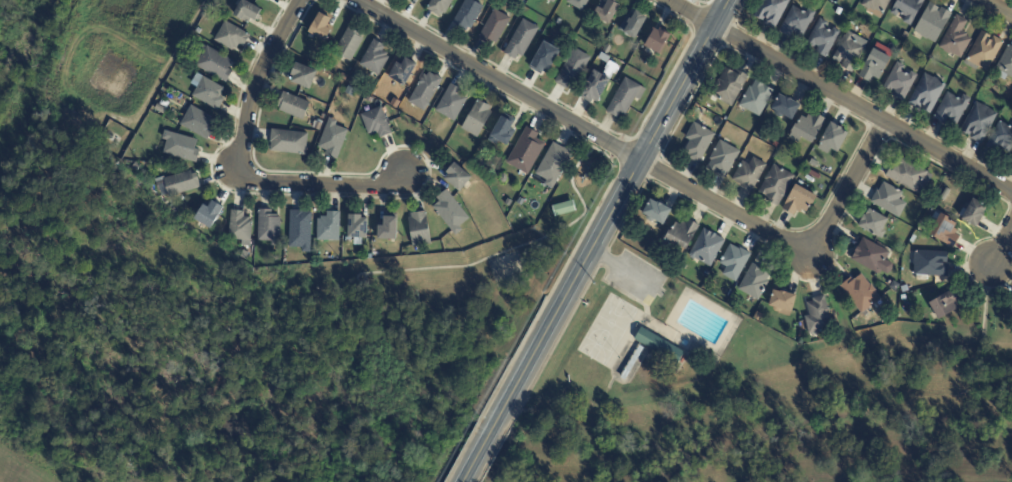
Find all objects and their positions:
building: (267, 0)
building: (551, 1)
building: (577, 3)
building: (875, 4)
building: (438, 6)
road: (997, 8)
building: (907, 9)
building: (771, 11)
building: (839, 11)
building: (247, 12)
building: (607, 12)
building: (467, 15)
building: (797, 21)
building: (854, 21)
building: (932, 23)
building: (633, 24)
building: (321, 27)
building: (493, 27)
building: (230, 36)
building: (822, 38)
building: (956, 38)
building: (521, 40)
building: (657, 40)
building: (348, 44)
building: (607, 49)
building: (850, 51)
building: (984, 52)
building: (603, 57)
building: (374, 58)
building: (544, 58)
building: (213, 63)
building: (1006, 64)
building: (874, 65)
building: (572, 68)
building: (403, 72)
building: (301, 75)
building: (343, 77)
building: (351, 81)
road: (497, 81)
building: (900, 81)
building: (729, 85)
building: (593, 87)
building: (424, 91)
building: (208, 92)
building: (927, 93)
road: (839, 97)
building: (623, 98)
building: (756, 98)
building: (167, 102)
building: (374, 102)
building: (451, 103)
building: (292, 106)
building: (784, 107)
building: (952, 108)
building: (159, 109)
building: (476, 119)
building: (197, 122)
building: (979, 122)
building: (375, 123)
building: (316, 125)
building: (807, 128)
building: (501, 131)
building: (762, 134)
building: (1001, 137)
building: (832, 138)
building: (332, 139)
building: (288, 142)
building: (697, 142)
building: (774, 144)
building: (179, 147)
building: (525, 151)
building: (722, 159)
building: (1011, 160)
building: (1011, 162)
road: (244, 164)
building: (553, 164)
building: (136, 166)
building: (749, 174)
building: (811, 174)
building: (909, 175)
building: (456, 177)
building: (178, 184)
building: (776, 185)
building: (525, 195)
building: (798, 200)
building: (889, 200)
building: (509, 203)
building: (564, 209)
building: (450, 212)
building: (656, 212)
building: (974, 213)
building: (208, 215)
road: (610, 218)
building: (873, 224)
building: (268, 227)
building: (328, 227)
building: (239, 228)
building: (357, 229)
building: (388, 229)
building: (299, 230)
building: (418, 230)
building: (945, 231)
building: (682, 234)
road: (1001, 243)
road: (792, 245)
road: (521, 247)
building: (706, 248)
building: (244, 255)
building: (870, 256)
building: (734, 262)
building: (929, 264)
road: (624, 271)
road: (364, 276)
building: (755, 282)
building: (904, 289)
building: (860, 293)
building: (782, 302)
building: (946, 304)
building: (818, 316)
building: (758, 317)
park: (610, 332)
building: (658, 346)
road: (477, 458)

